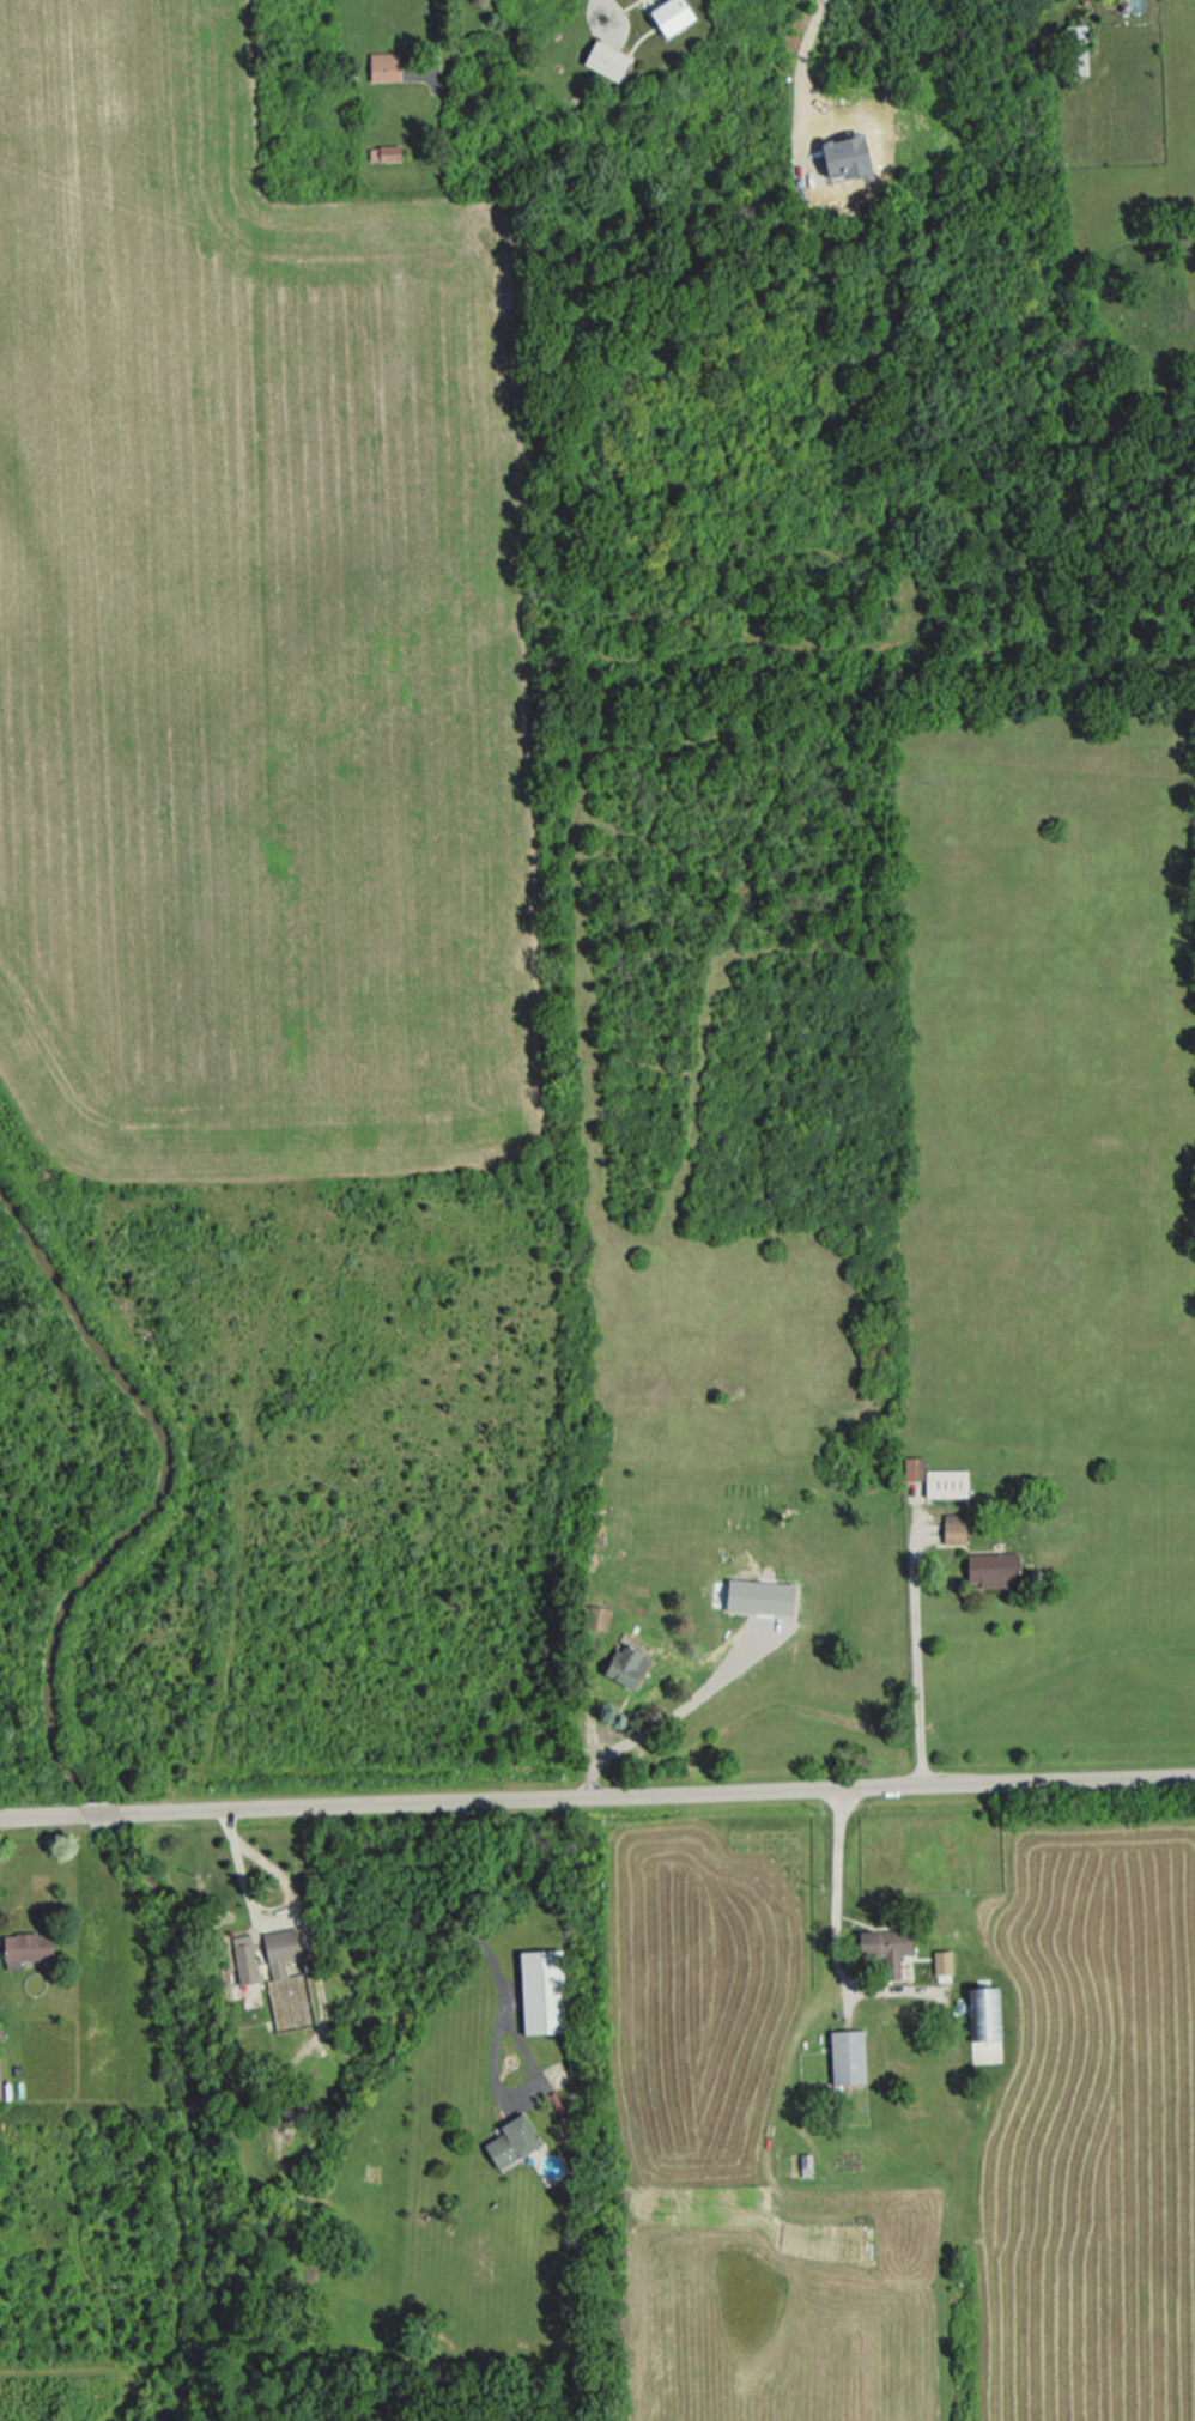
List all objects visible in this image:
building: (671, 14)
road: (432, 34)
building: (1076, 48)
building: (605, 59)
building: (383, 66)
building: (383, 152)
building: (845, 157)
building: (912, 1467)
building: (945, 1482)
building: (953, 1528)
building: (993, 1569)
building: (759, 1596)
building: (596, 1616)
road: (916, 1658)
building: (626, 1664)
road: (673, 1712)
road: (656, 1794)
road: (99, 1810)
road: (41, 1813)
road: (271, 1907)
road: (833, 1931)
road: (485, 1946)
building: (26, 1947)
building: (885, 1948)
building: (244, 1958)
building: (941, 1961)
building: (286, 1979)
building: (541, 1990)
building: (984, 2013)
building: (847, 2056)
building: (512, 2141)

